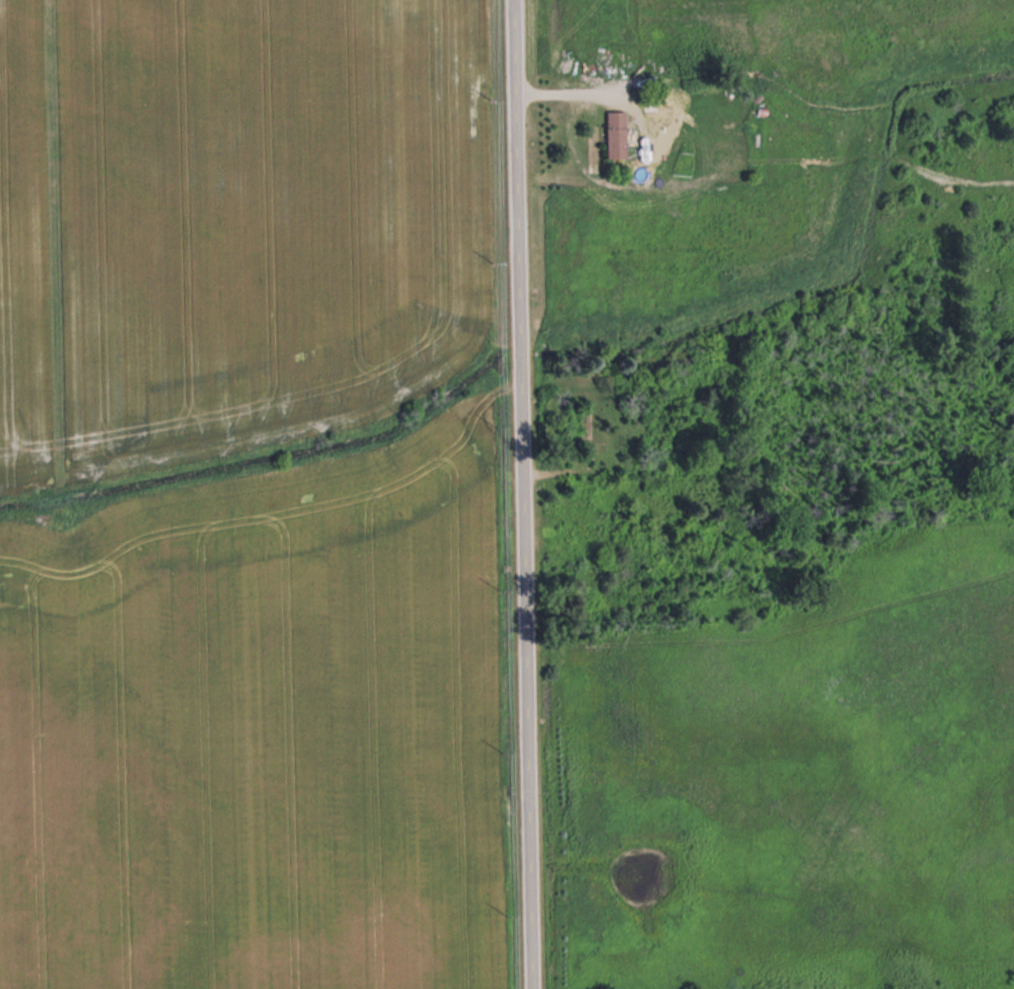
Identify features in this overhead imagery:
building: (616, 134)
road: (520, 494)

